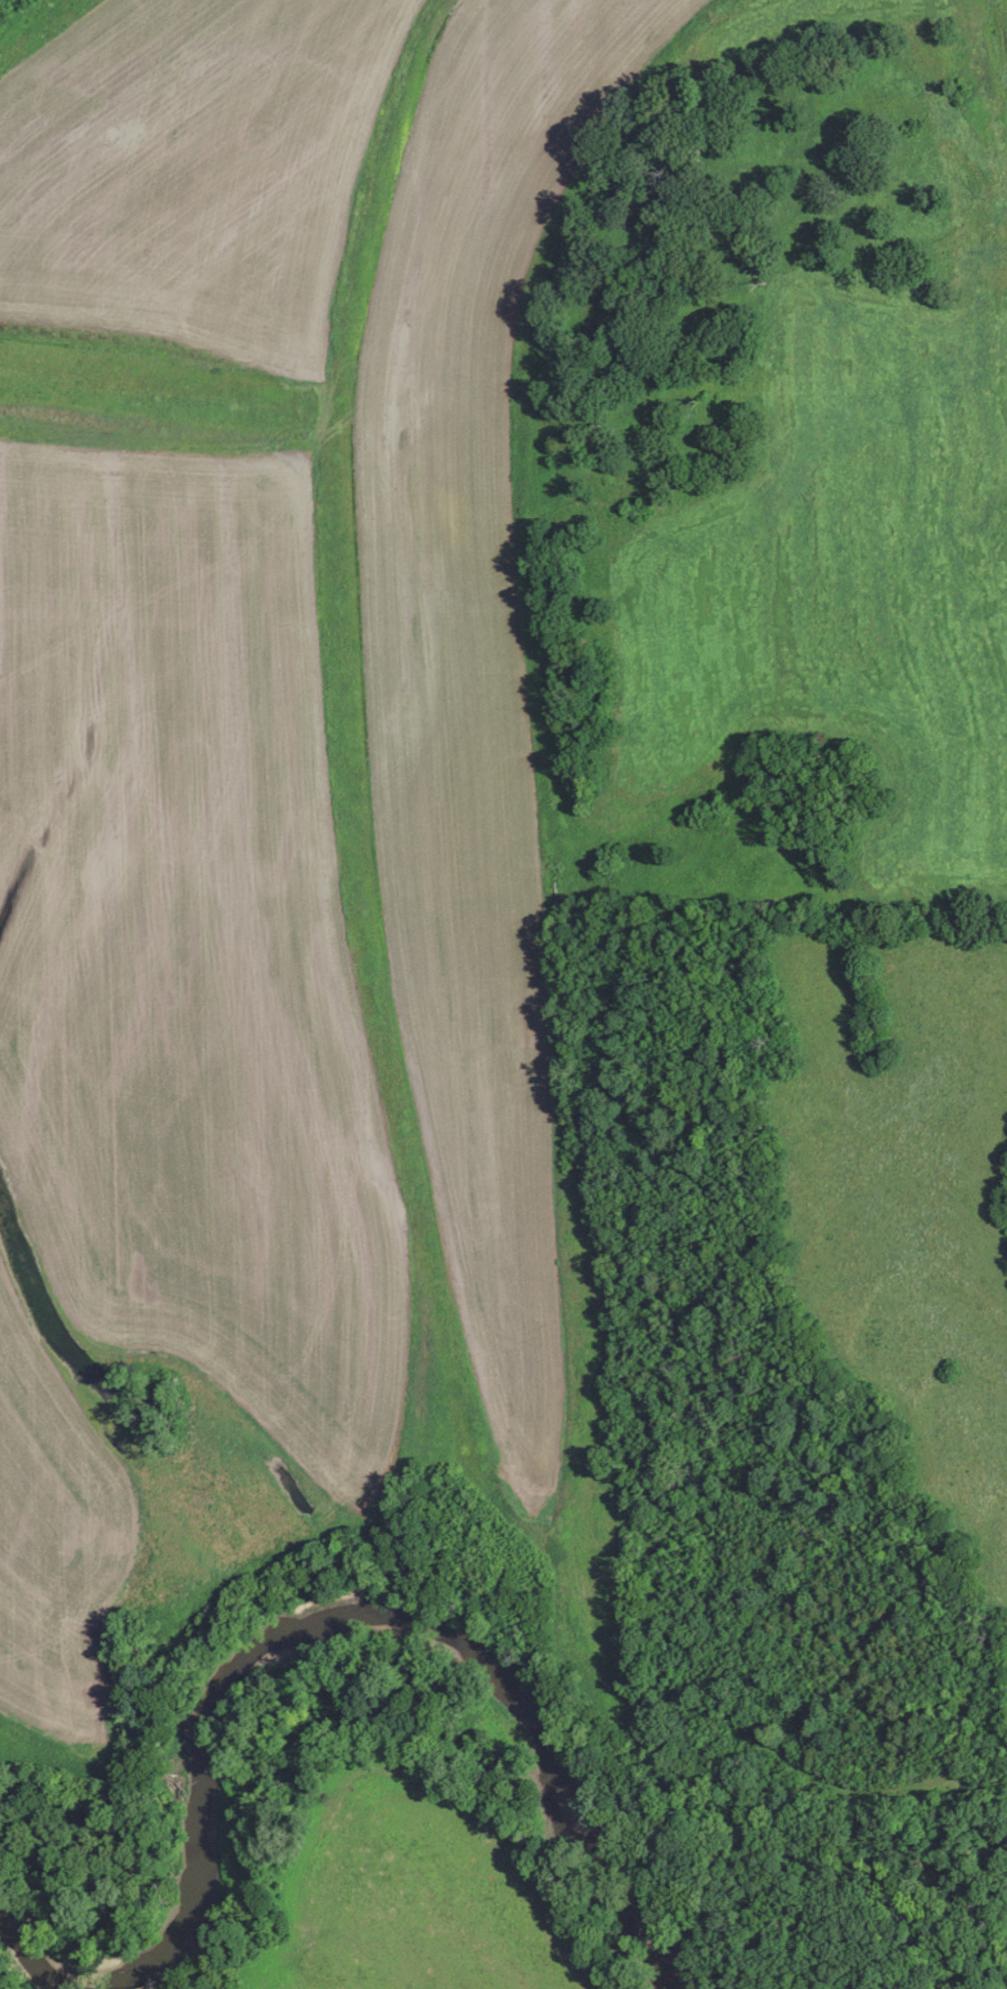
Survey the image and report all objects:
river: (307, 1627)

